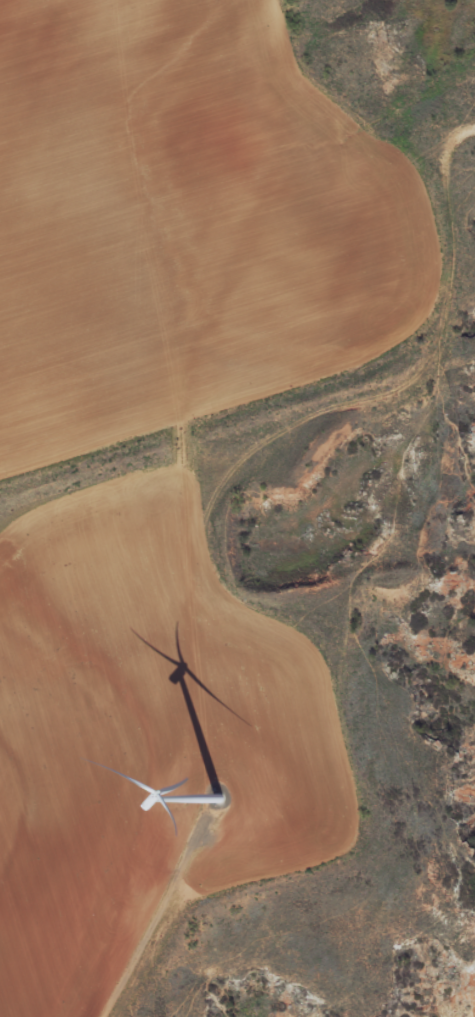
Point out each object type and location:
road: (352, 73)
wind turbine: (217, 800)

